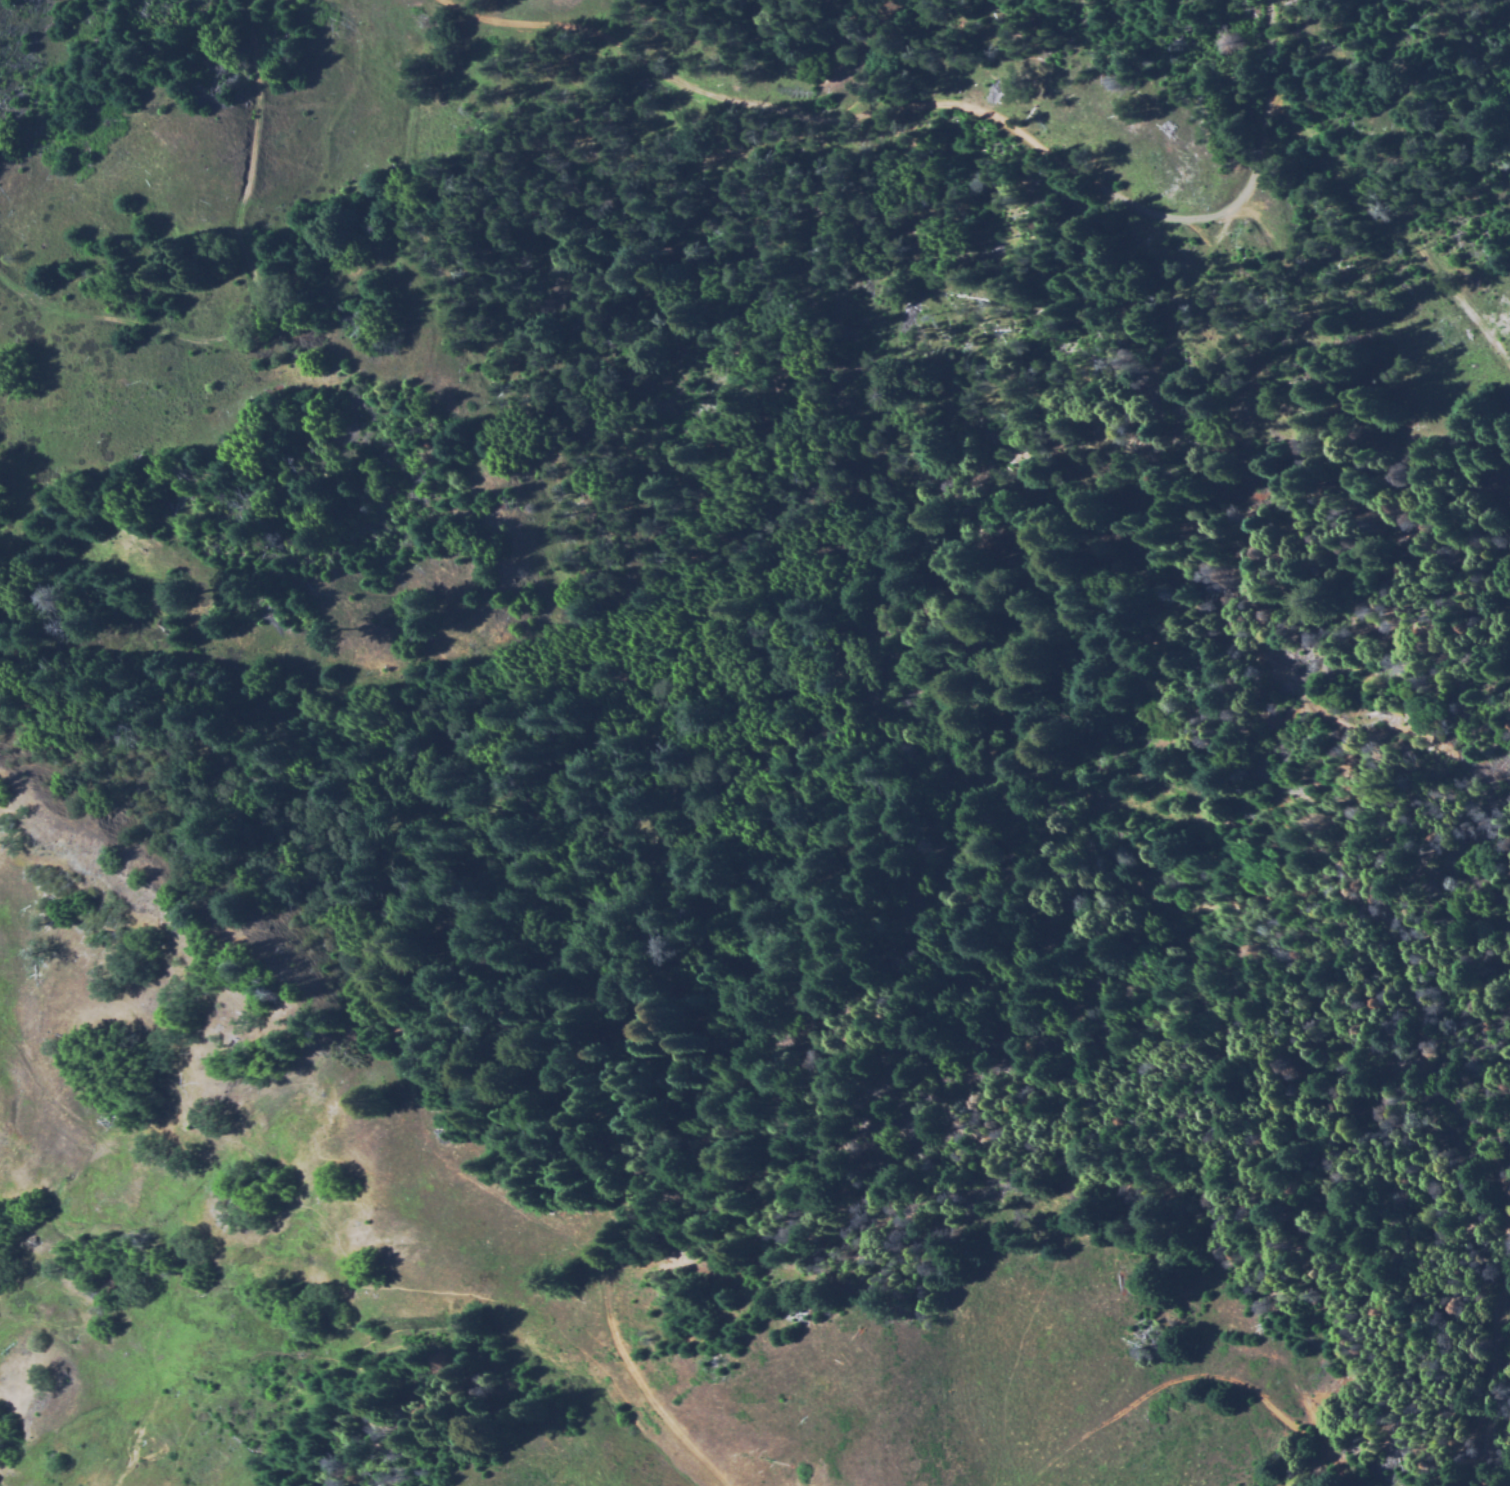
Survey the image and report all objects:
road: (1148, 840)
road: (1192, 1376)

